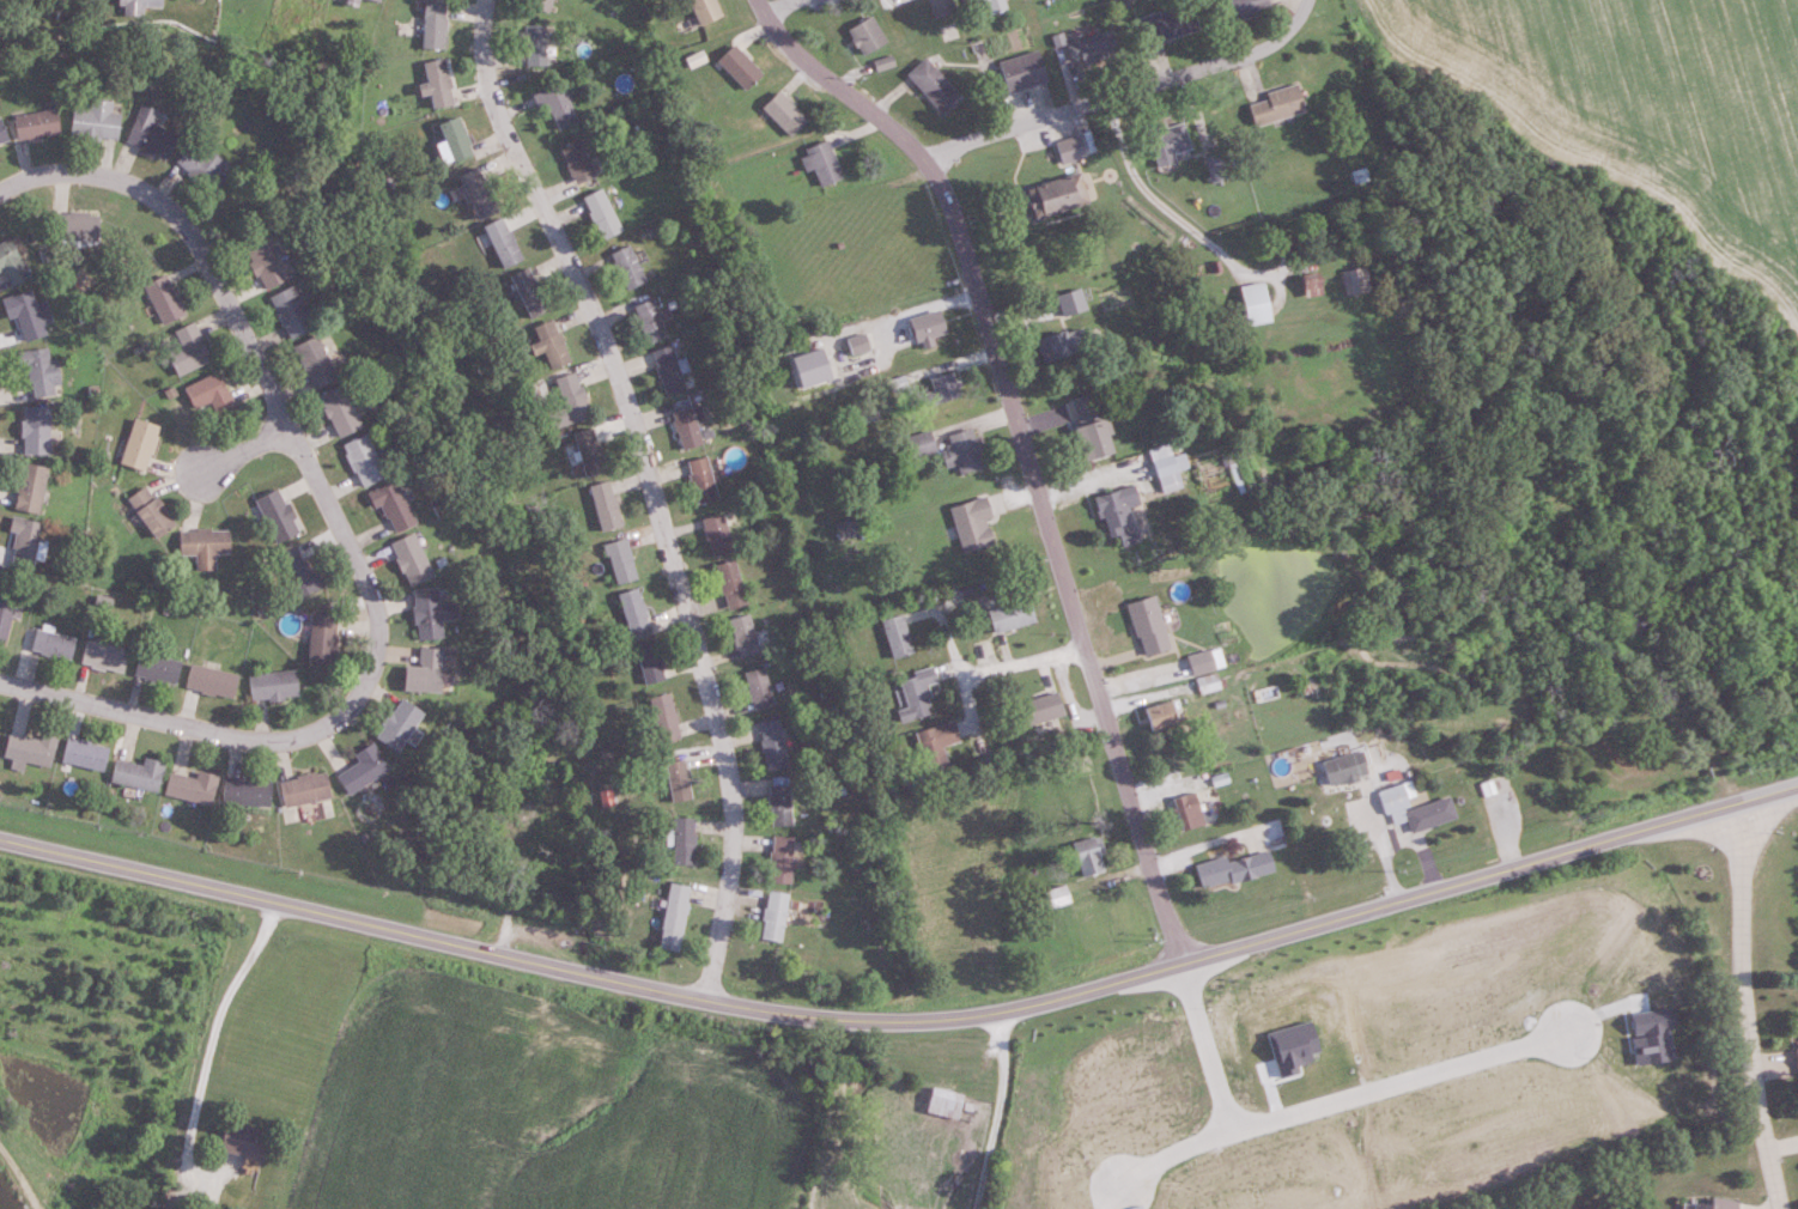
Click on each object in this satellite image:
building: (376, 0)
building: (973, 0)
building: (351, 2)
building: (539, 5)
building: (994, 5)
building: (135, 6)
road: (780, 6)
building: (940, 6)
building: (1244, 8)
building: (704, 10)
building: (1166, 20)
building: (432, 24)
building: (864, 35)
building: (535, 45)
building: (1092, 48)
building: (739, 67)
building: (1020, 71)
building: (436, 84)
road: (836, 85)
building: (933, 85)
road: (1126, 93)
building: (1275, 105)
building: (557, 107)
building: (783, 114)
building: (35, 124)
building: (148, 134)
building: (2, 136)
building: (455, 139)
building: (1166, 141)
building: (1069, 150)
building: (577, 162)
building: (820, 162)
building: (201, 166)
building: (1215, 168)
building: (478, 193)
building: (1051, 196)
road: (1158, 201)
building: (602, 214)
building: (73, 226)
building: (502, 242)
building: (263, 262)
building: (11, 265)
building: (627, 267)
building: (1355, 281)
building: (1311, 287)
building: (528, 292)
building: (163, 298)
building: (1070, 302)
building: (1253, 304)
building: (287, 312)
building: (26, 315)
building: (650, 321)
building: (925, 328)
building: (857, 344)
building: (1062, 344)
building: (551, 345)
building: (187, 350)
building: (312, 362)
building: (668, 370)
building: (40, 373)
building: (942, 387)
building: (208, 394)
building: (569, 402)
building: (338, 412)
building: (687, 429)
building: (34, 431)
building: (1092, 439)
building: (921, 444)
building: (138, 445)
road: (247, 451)
building: (962, 451)
building: (587, 452)
building: (362, 461)
building: (1167, 467)
building: (703, 480)
building: (28, 488)
road: (654, 490)
building: (390, 506)
building: (603, 506)
building: (148, 512)
building: (275, 515)
building: (1117, 515)
road: (346, 535)
building: (717, 535)
building: (23, 541)
building: (202, 546)
building: (409, 559)
building: (620, 563)
road: (1061, 563)
building: (297, 571)
building: (731, 584)
building: (632, 609)
building: (430, 613)
building: (6, 615)
building: (1012, 616)
building: (1148, 626)
building: (745, 636)
building: (897, 637)
building: (321, 639)
building: (51, 644)
building: (102, 656)
building: (650, 662)
building: (1205, 662)
road: (953, 663)
road: (1022, 664)
building: (156, 668)
building: (423, 673)
building: (209, 680)
building: (272, 686)
building: (759, 688)
building: (916, 694)
building: (1038, 709)
building: (1160, 716)
building: (663, 718)
building: (396, 725)
building: (773, 743)
building: (937, 747)
building: (29, 752)
building: (84, 755)
building: (1075, 766)
building: (1344, 768)
building: (360, 770)
building: (136, 774)
building: (676, 780)
building: (190, 788)
building: (303, 790)
building: (245, 792)
building: (780, 804)
building: (1415, 809)
building: (1190, 810)
road: (1375, 826)
building: (682, 842)
road: (1207, 842)
road: (1423, 847)
building: (1089, 856)
building: (782, 859)
building: (1234, 869)
building: (1056, 897)
building: (773, 917)
building: (673, 918)
road: (1747, 1010)
road: (904, 1027)
road: (211, 1044)
building: (1797, 1059)
building: (943, 1104)
road: (1316, 1104)
road: (1002, 1116)
building: (241, 1142)
road: (1171, 1152)
building: (1709, 1204)

